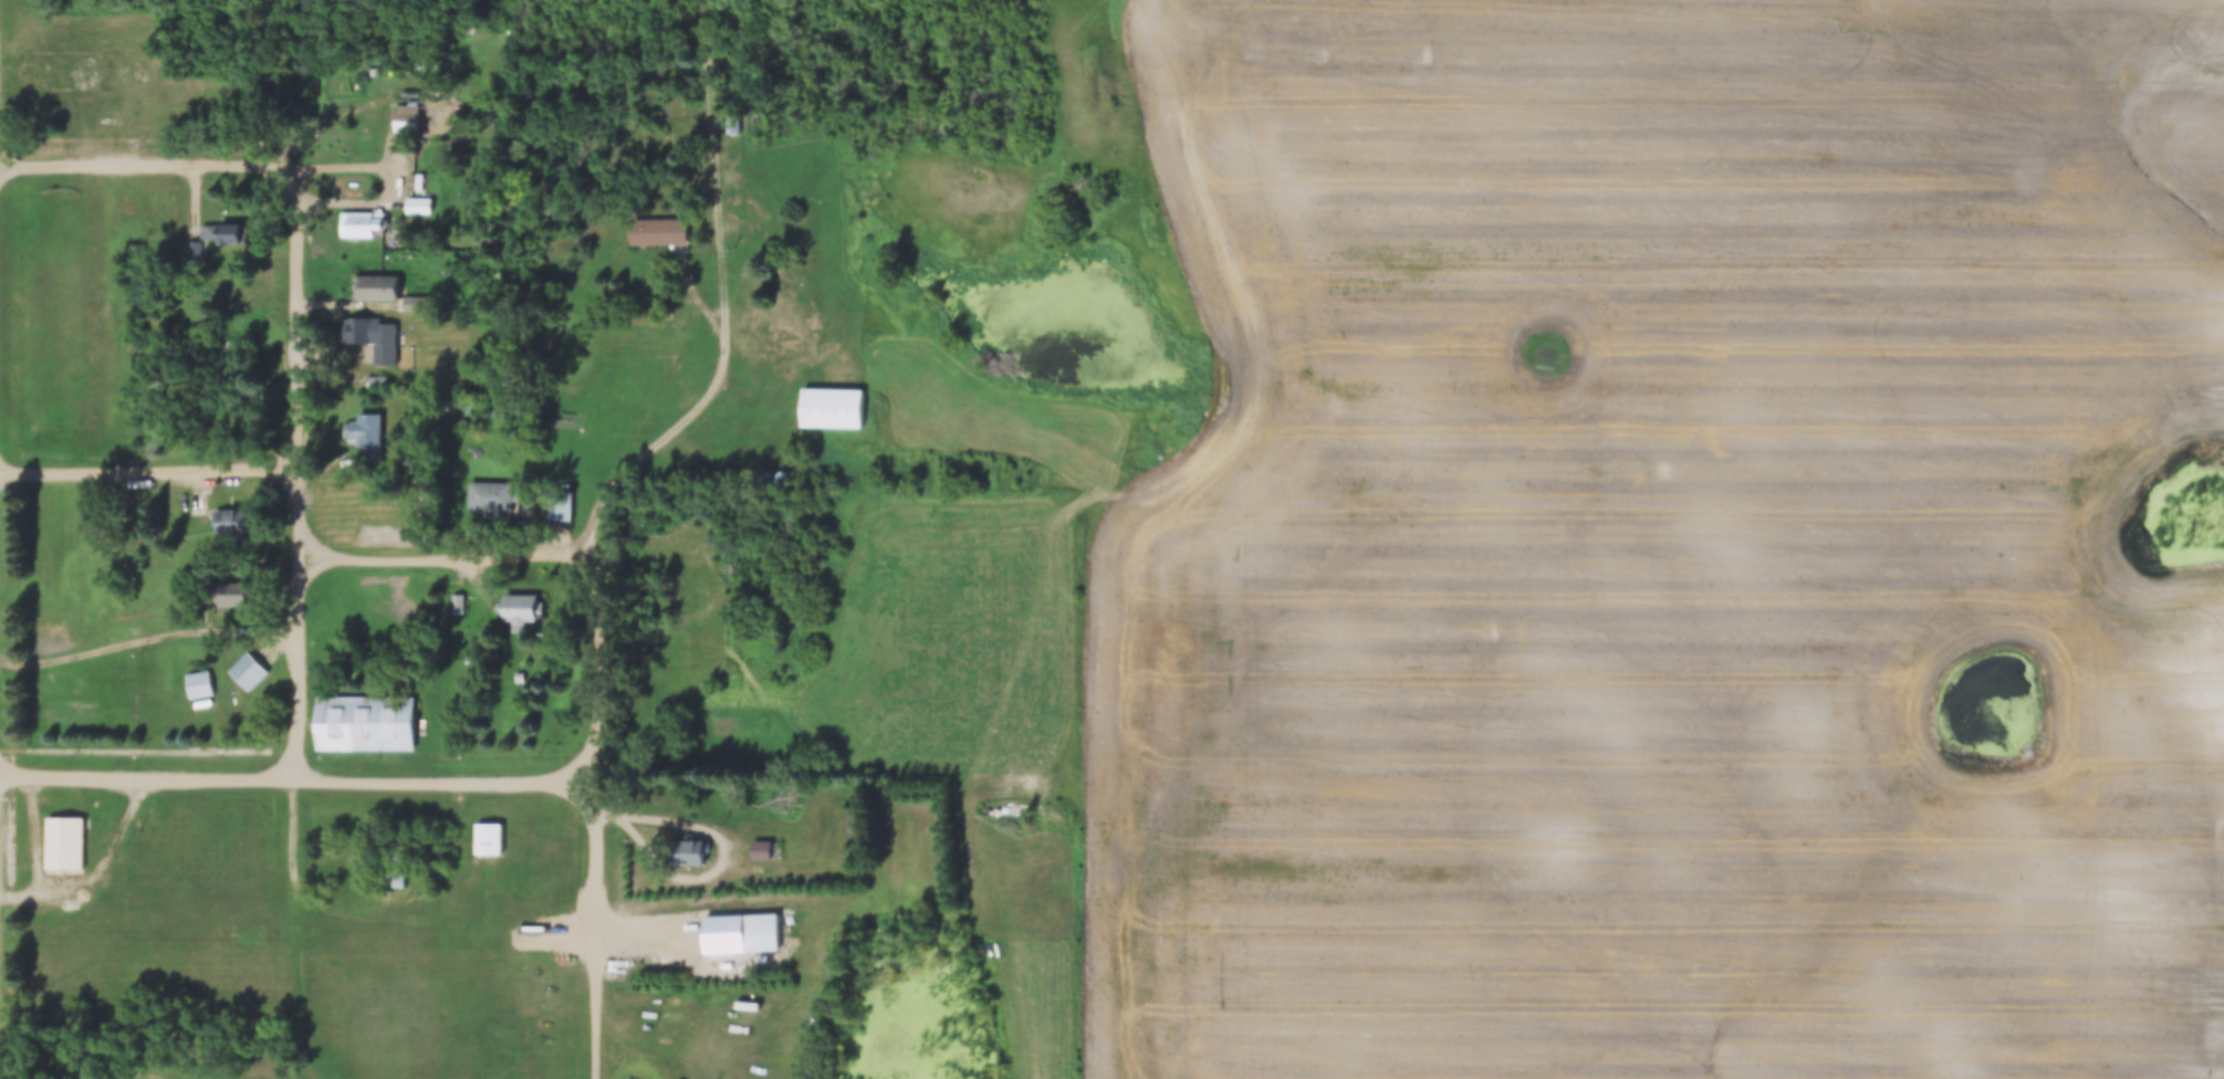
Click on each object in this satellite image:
building: (403, 114)
building: (725, 115)
road: (149, 171)
building: (417, 197)
building: (415, 208)
building: (363, 216)
building: (654, 223)
building: (225, 226)
building: (218, 237)
building: (192, 247)
building: (377, 281)
building: (415, 295)
road: (723, 300)
building: (238, 305)
building: (248, 325)
building: (372, 329)
building: (219, 355)
building: (377, 373)
building: (828, 401)
building: (365, 427)
building: (737, 470)
silo: (737, 470)
building: (751, 470)
silo: (751, 470)
building: (766, 470)
silo: (766, 470)
building: (783, 471)
silo: (783, 471)
road: (149, 473)
road: (299, 479)
building: (490, 488)
building: (524, 491)
building: (558, 499)
building: (229, 514)
road: (445, 565)
building: (229, 587)
building: (458, 595)
building: (518, 599)
road: (149, 645)
building: (471, 645)
building: (247, 663)
building: (519, 668)
road: (601, 673)
building: (198, 677)
building: (195, 688)
building: (363, 714)
road: (292, 784)
road: (707, 829)
building: (487, 831)
building: (64, 835)
building: (756, 842)
building: (687, 846)
building: (761, 853)
road: (296, 866)
road: (104, 883)
building: (549, 922)
building: (758, 926)
road: (667, 931)
road: (602, 932)

